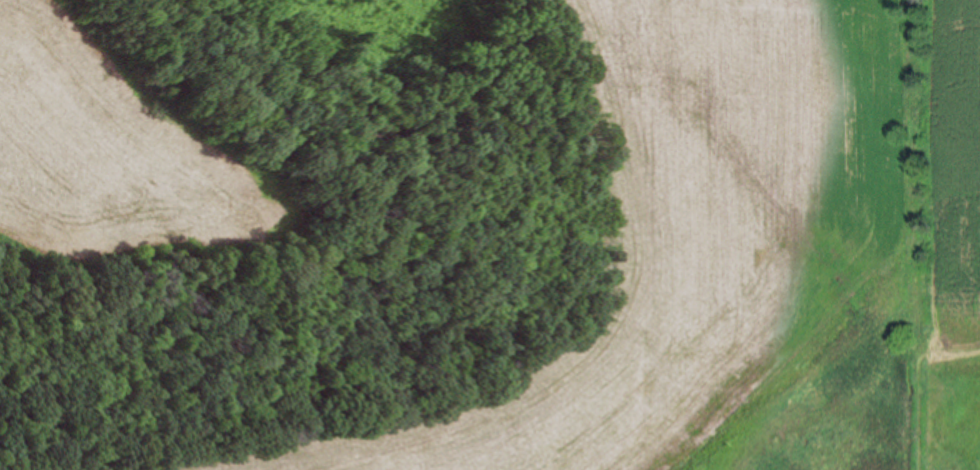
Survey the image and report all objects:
crop: (121, 150)
crop: (738, 221)

